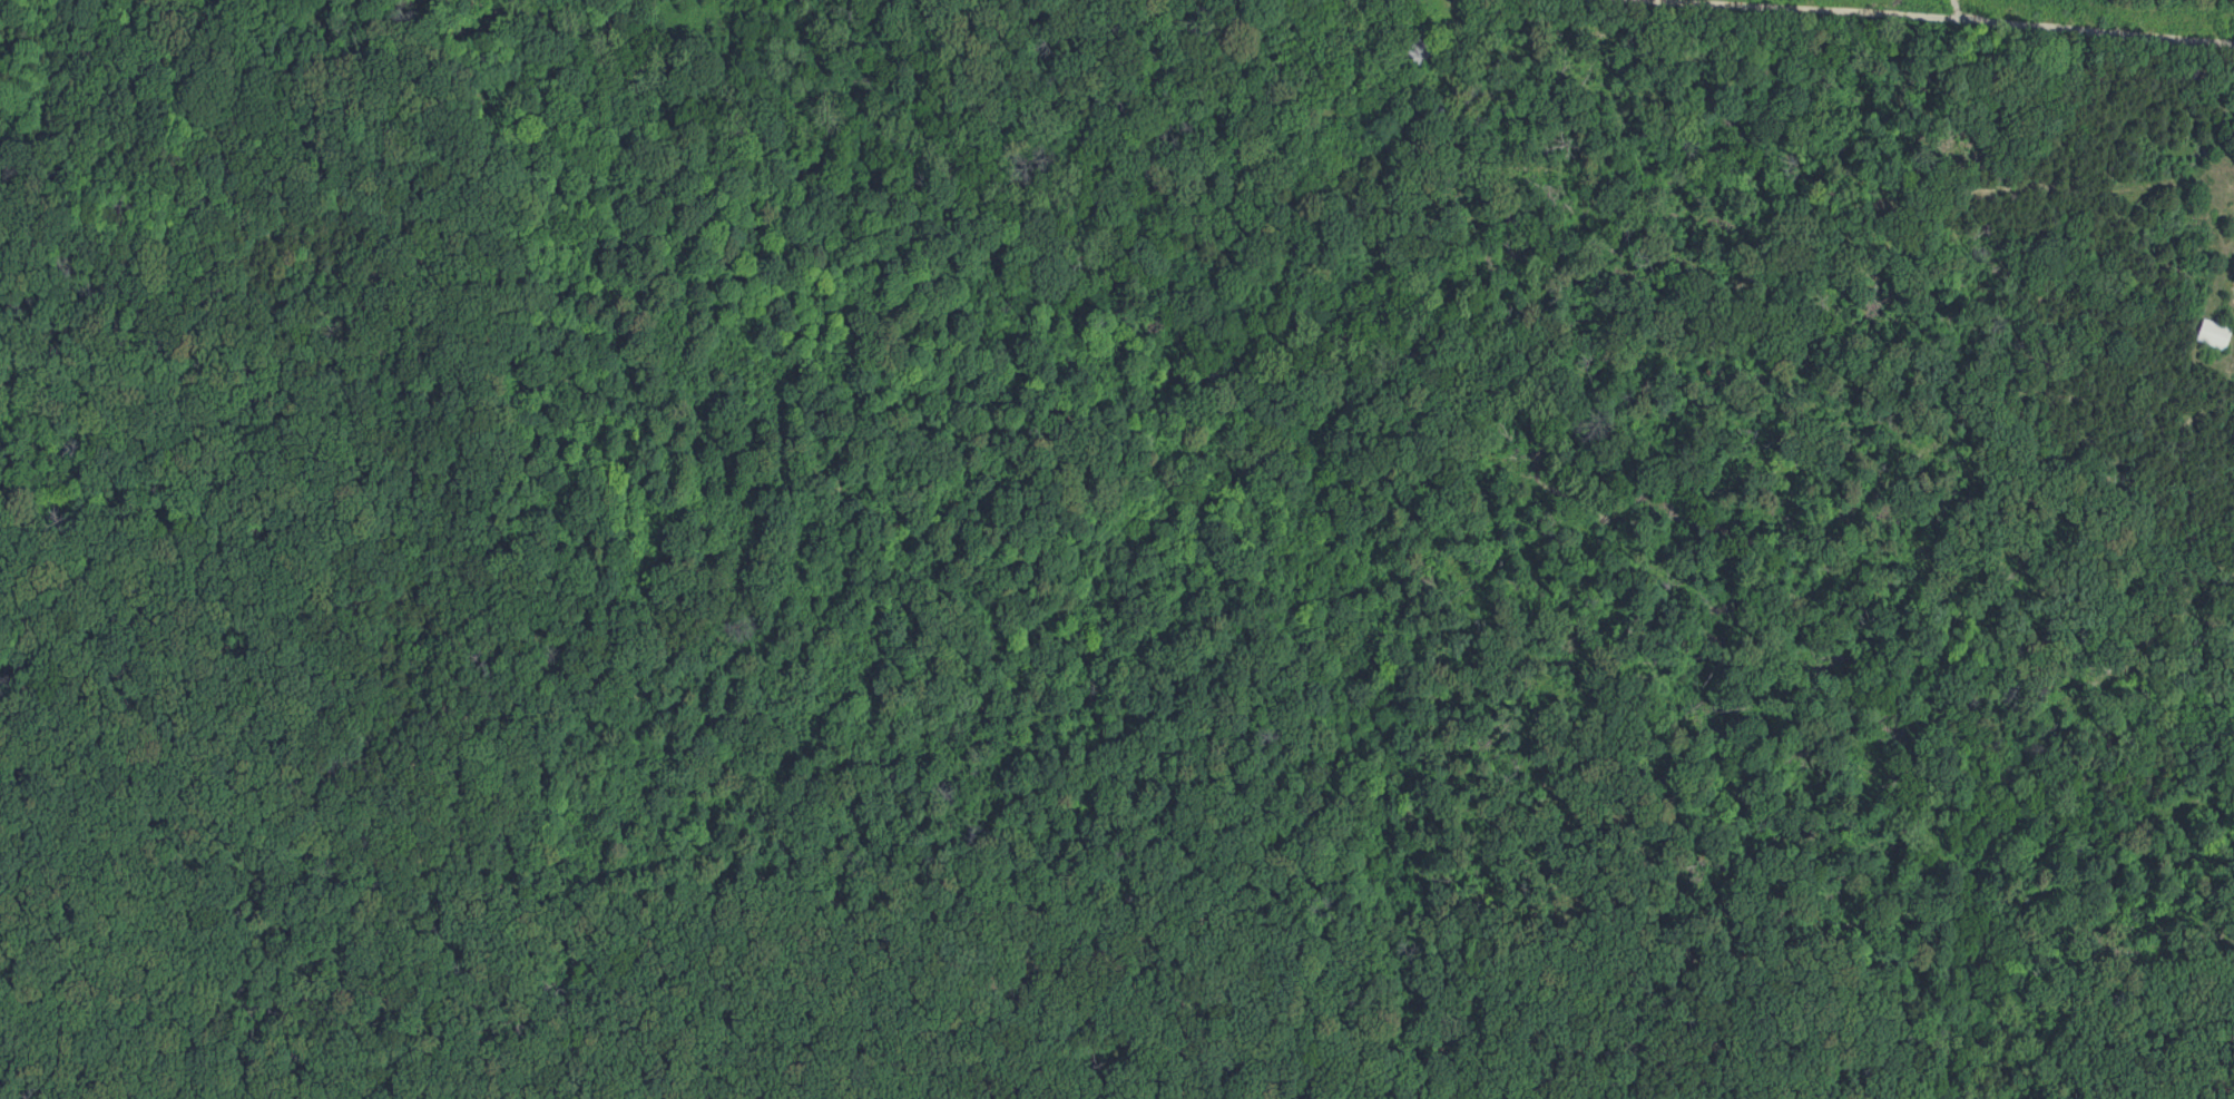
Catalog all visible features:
road: (1996, 13)
building: (2208, 334)

